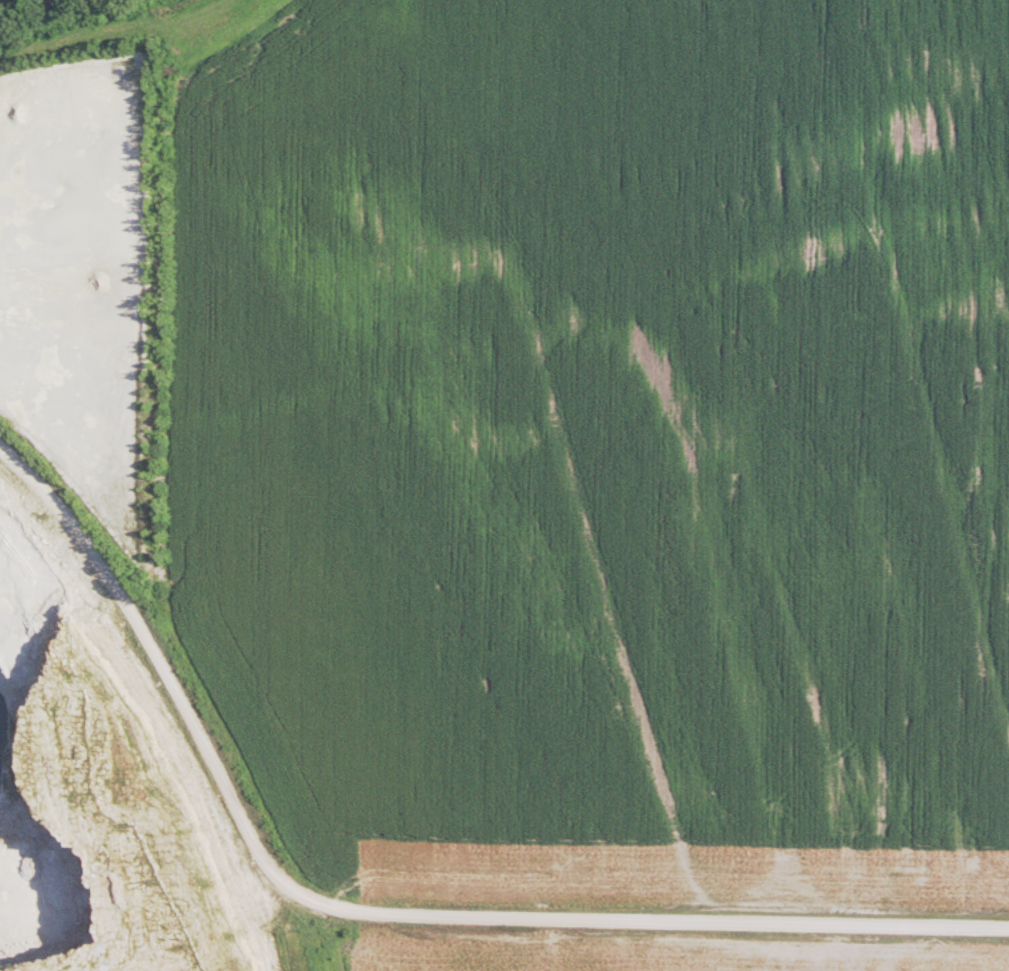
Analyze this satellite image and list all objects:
road: (380, 913)

